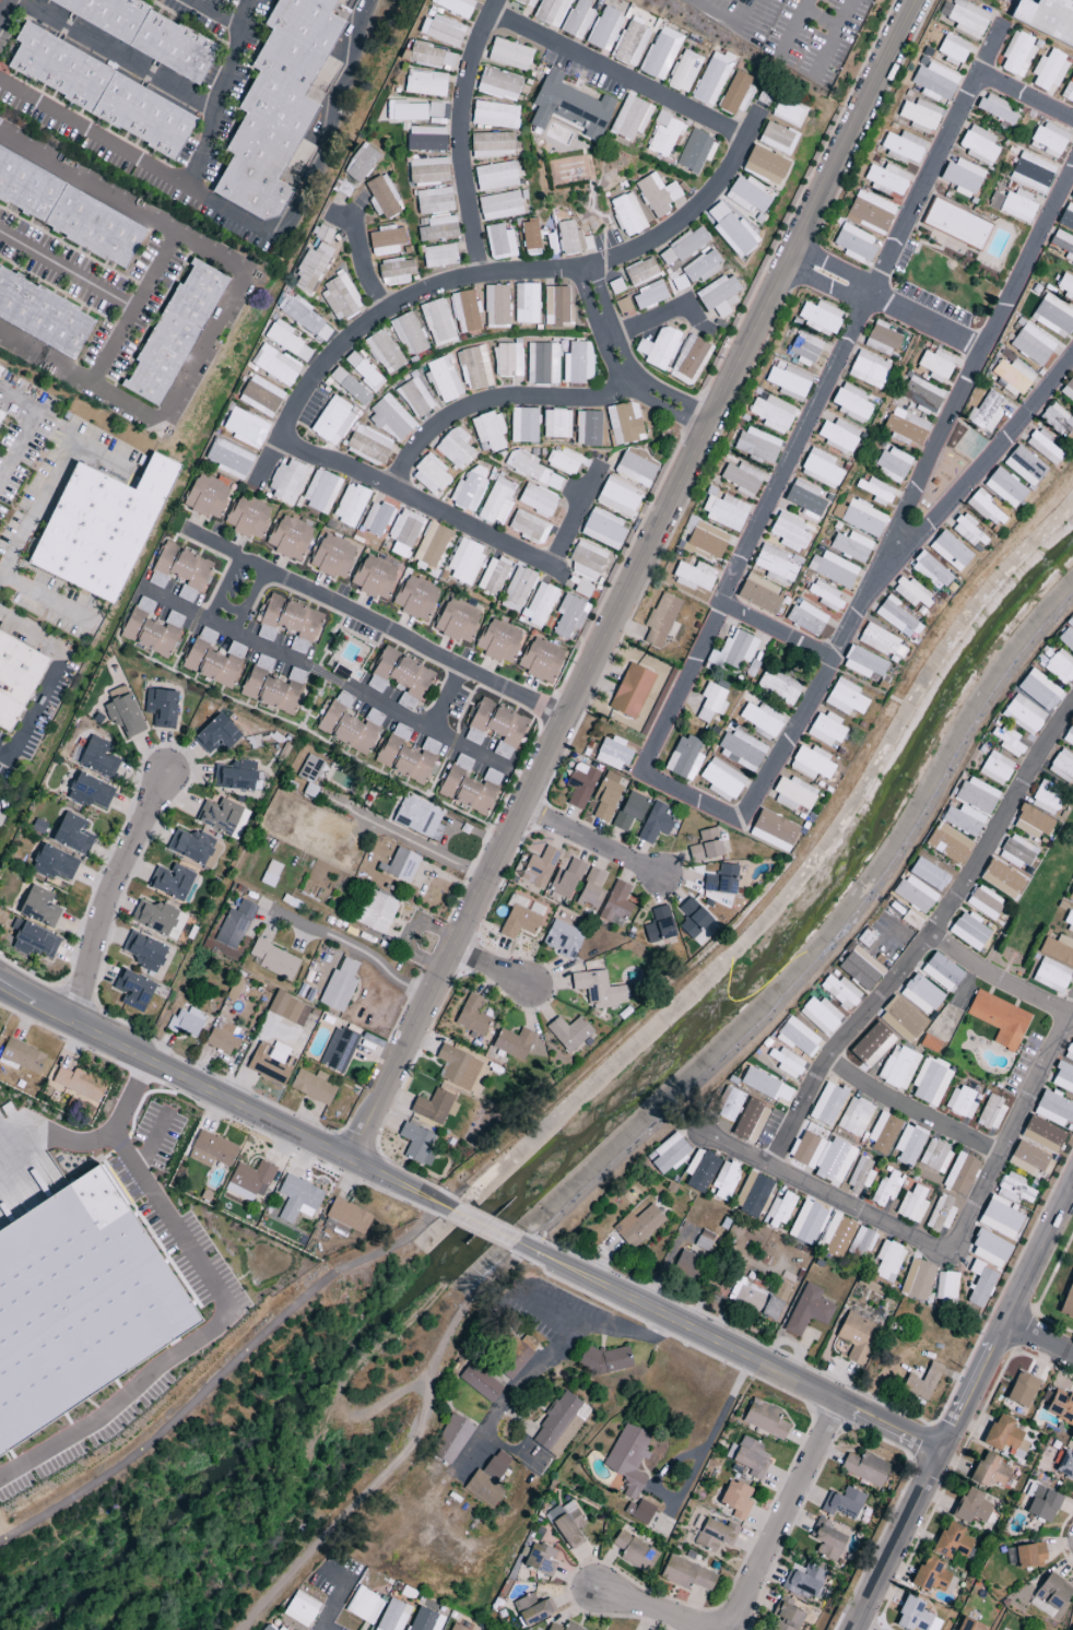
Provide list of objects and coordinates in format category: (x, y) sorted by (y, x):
building: (524, 2)
building: (1065, 3)
road: (741, 5)
building: (455, 7)
road: (5, 10)
building: (551, 12)
road: (214, 13)
road: (820, 17)
building: (965, 17)
building: (577, 20)
building: (1053, 21)
road: (792, 27)
building: (604, 29)
parking lot: (793, 29)
building: (440, 31)
building: (143, 32)
road: (833, 38)
building: (630, 45)
building: (952, 50)
building: (660, 54)
building: (509, 55)
building: (1016, 55)
road: (115, 56)
building: (431, 57)
building: (683, 72)
building: (1048, 72)
road: (621, 79)
building: (711, 79)
building: (934, 82)
building: (424, 83)
building: (498, 85)
building: (99, 92)
building: (1069, 92)
road: (219, 93)
building: (735, 94)
road: (1026, 99)
building: (276, 106)
building: (569, 108)
building: (780, 108)
building: (994, 108)
building: (404, 111)
building: (494, 115)
building: (920, 116)
building: (629, 118)
road: (461, 134)
building: (663, 134)
building: (425, 139)
building: (776, 139)
building: (1048, 140)
building: (492, 145)
building: (978, 145)
building: (904, 146)
building: (695, 152)
building: (361, 164)
building: (764, 165)
building: (427, 172)
building: (1031, 173)
building: (497, 176)
building: (962, 178)
building: (887, 179)
building: (657, 194)
building: (746, 196)
building: (382, 197)
building: (1072, 200)
building: (433, 201)
building: (500, 205)
building: (1017, 205)
building: (68, 211)
building: (870, 213)
building: (627, 214)
building: (1066, 217)
road: (248, 220)
building: (955, 224)
building: (438, 229)
building: (731, 231)
building: (571, 238)
building: (530, 239)
building: (499, 243)
building: (854, 244)
building: (1061, 246)
building: (683, 247)
building: (438, 256)
building: (700, 268)
building: (310, 269)
road: (365, 270)
road: (156, 272)
building: (394, 272)
building: (640, 272)
building: (1065, 286)
building: (648, 296)
building: (719, 296)
building: (339, 298)
building: (526, 304)
building: (495, 305)
road: (885, 305)
building: (556, 307)
building: (623, 308)
building: (464, 311)
building: (43, 314)
building: (1053, 316)
building: (304, 318)
building: (820, 318)
road: (374, 320)
building: (436, 323)
road: (630, 329)
building: (173, 334)
building: (408, 334)
building: (286, 341)
building: (1031, 345)
building: (658, 349)
building: (804, 350)
building: (384, 352)
road: (46, 357)
building: (507, 361)
building: (688, 361)
building: (577, 363)
building: (542, 364)
building: (274, 365)
building: (935, 365)
road: (623, 366)
building: (0, 368)
road: (193, 368)
building: (474, 368)
building: (866, 370)
building: (363, 371)
building: (1011, 377)
building: (443, 380)
building: (789, 382)
building: (350, 387)
building: (1068, 390)
building: (922, 395)
building: (260, 397)
building: (414, 398)
road: (498, 403)
building: (851, 403)
building: (984, 412)
building: (0, 414)
building: (773, 414)
building: (390, 420)
building: (1056, 420)
building: (332, 422)
building: (623, 423)
building: (555, 424)
building: (523, 425)
building: (905, 427)
building: (245, 428)
building: (587, 428)
building: (488, 432)
building: (837, 436)
building: (367, 446)
building: (757, 446)
building: (1042, 447)
road: (17, 449)
building: (455, 449)
building: (228, 459)
road: (268, 461)
building: (565, 462)
building: (893, 464)
building: (636, 466)
building: (1024, 466)
building: (820, 469)
building: (532, 471)
building: (431, 476)
road: (977, 476)
road: (52, 479)
building: (742, 480)
building: (286, 483)
building: (1004, 488)
building: (469, 489)
building: (320, 492)
building: (875, 492)
building: (205, 496)
building: (617, 498)
building: (803, 499)
building: (536, 500)
building: (496, 501)
building: (350, 505)
building: (986, 510)
building: (724, 511)
building: (248, 517)
road: (578, 518)
building: (860, 518)
building: (376, 519)
building: (99, 528)
building: (528, 528)
building: (603, 530)
building: (968, 532)
building: (403, 533)
building: (789, 533)
building: (288, 538)
building: (705, 541)
road: (16, 543)
building: (431, 545)
building: (850, 546)
building: (950, 551)
building: (332, 557)
building: (464, 562)
building: (586, 562)
building: (774, 565)
building: (832, 569)
building: (179, 571)
building: (930, 571)
building: (493, 576)
building: (374, 577)
building: (693, 577)
road: (228, 579)
road: (634, 580)
building: (517, 590)
building: (910, 593)
building: (758, 594)
building: (825, 595)
road: (43, 597)
building: (415, 598)
road: (250, 599)
building: (539, 605)
road: (231, 610)
road: (214, 611)
building: (568, 617)
building: (896, 617)
building: (805, 618)
building: (457, 621)
building: (661, 621)
building: (288, 623)
road: (376, 624)
building: (151, 629)
road: (780, 631)
building: (1066, 639)
building: (498, 641)
building: (882, 642)
building: (732, 650)
building: (213, 660)
building: (540, 660)
building: (862, 663)
building: (1059, 668)
road: (52, 675)
road: (328, 676)
building: (400, 677)
building: (16, 678)
building: (272, 686)
building: (778, 686)
building: (630, 692)
building: (845, 698)
road: (450, 702)
building: (710, 702)
building: (161, 707)
building: (1023, 714)
building: (123, 716)
building: (760, 720)
building: (349, 724)
building: (496, 728)
building: (825, 730)
building: (216, 734)
building: (1069, 736)
building: (1006, 742)
building: (741, 749)
building: (612, 754)
building: (406, 755)
building: (97, 758)
building: (683, 758)
building: (811, 764)
building: (1062, 767)
building: (994, 768)
building: (310, 770)
road: (648, 773)
building: (236, 777)
building: (721, 780)
building: (579, 786)
building: (468, 787)
building: (90, 792)
building: (793, 794)
building: (605, 795)
building: (975, 796)
building: (1047, 799)
building: (629, 811)
building: (221, 817)
building: (418, 818)
building: (962, 820)
building: (1031, 823)
building: (655, 824)
building: (773, 831)
building: (71, 834)
road: (406, 837)
road: (590, 840)
building: (948, 844)
building: (192, 847)
building: (705, 847)
building: (1017, 852)
building: (55, 864)
building: (401, 865)
building: (539, 869)
building: (931, 872)
building: (270, 874)
building: (566, 879)
building: (1002, 879)
building: (721, 881)
building: (173, 883)
building: (590, 890)
road: (106, 893)
building: (913, 895)
building: (1070, 896)
building: (615, 903)
building: (983, 903)
building: (38, 907)
building: (375, 911)
building: (520, 917)
building: (155, 919)
building: (1068, 920)
building: (694, 922)
building: (234, 925)
building: (659, 925)
building: (969, 931)
building: (562, 940)
building: (35, 942)
road: (925, 942)
road: (829, 946)
road: (358, 949)
building: (1058, 950)
building: (144, 952)
building: (274, 960)
road: (490, 967)
building: (860, 969)
building: (941, 972)
building: (1050, 976)
road: (1000, 980)
building: (339, 987)
building: (133, 990)
building: (601, 990)
building: (839, 992)
building: (920, 994)
building: (233, 1002)
building: (287, 1009)
building: (471, 1016)
building: (820, 1016)
building: (999, 1019)
building: (900, 1020)
building: (186, 1023)
building: (568, 1032)
building: (221, 1038)
building: (797, 1038)
building: (512, 1043)
building: (871, 1044)
building: (338, 1050)
building: (1069, 1052)
building: (22, 1058)
building: (785, 1062)
building: (271, 1065)
building: (457, 1067)
building: (897, 1068)
building: (1063, 1078)
building: (930, 1082)
building: (79, 1084)
building: (765, 1086)
building: (313, 1087)
road: (221, 1097)
building: (960, 1102)
building: (728, 1105)
building: (827, 1105)
building: (434, 1108)
building: (1052, 1109)
road: (911, 1111)
building: (991, 1113)
building: (853, 1118)
building: (750, 1121)
road: (1012, 1132)
building: (882, 1134)
building: (1042, 1135)
road: (92, 1138)
building: (416, 1143)
building: (908, 1145)
building: (211, 1150)
building: (669, 1154)
building: (934, 1156)
building: (822, 1157)
building: (1027, 1159)
building: (699, 1170)
building: (860, 1174)
building: (959, 1174)
building: (724, 1180)
building: (249, 1181)
building: (885, 1189)
building: (1015, 1189)
building: (752, 1195)
road: (825, 1196)
building: (297, 1200)
building: (911, 1205)
building: (779, 1210)
building: (940, 1215)
building: (346, 1218)
building: (1000, 1218)
building: (806, 1222)
road: (482, 1224)
building: (637, 1226)
building: (836, 1236)
building: (704, 1240)
building: (860, 1243)
building: (990, 1250)
building: (887, 1261)
building: (686, 1263)
building: (917, 1279)
building: (869, 1286)
building: (981, 1287)
building: (945, 1288)
building: (754, 1300)
building: (1069, 1303)
building: (79, 1307)
building: (807, 1311)
road: (1010, 1318)
road: (600, 1326)
road: (198, 1330)
building: (859, 1332)
road: (1039, 1342)
road: (730, 1346)
building: (514, 1356)
building: (606, 1360)
road: (222, 1373)
building: (922, 1382)
building: (480, 1383)
road: (516, 1390)
building: (1022, 1390)
building: (1059, 1406)
building: (764, 1419)
building: (559, 1425)
building: (1005, 1438)
building: (450, 1440)
road: (405, 1451)
building: (751, 1457)
building: (627, 1458)
building: (1065, 1466)
building: (865, 1468)
road: (693, 1472)
building: (989, 1472)
building: (487, 1480)
building: (735, 1500)
building: (842, 1503)
building: (1042, 1504)
building: (971, 1508)
building: (638, 1512)
building: (566, 1524)
building: (714, 1534)
road: (897, 1539)
building: (827, 1540)
building: (952, 1542)
building: (634, 1551)
building: (1029, 1556)
building: (540, 1560)
building: (685, 1574)
road: (758, 1574)
building: (931, 1576)
building: (805, 1582)
building: (1052, 1593)
building: (364, 1606)
building: (300, 1609)
building: (532, 1609)
building: (393, 1616)
building: (912, 1616)
building: (786, 1617)
building: (425, 1620)
building: (968, 1625)
building: (564, 1627)
building: (267, 1628)
building: (455, 1628)
building: (280, 1629)

